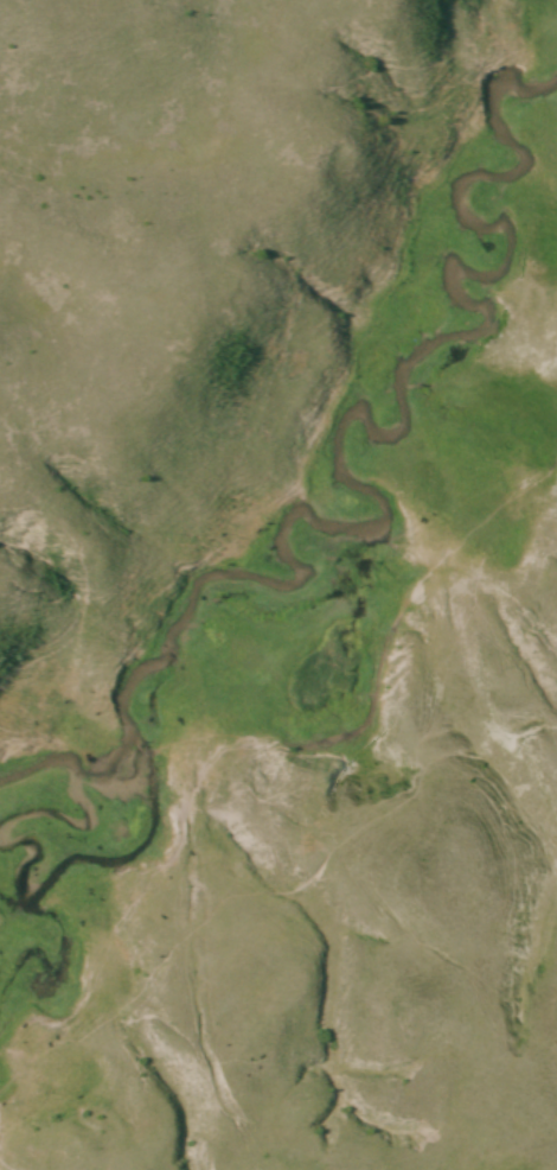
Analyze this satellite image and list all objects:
river: (286, 547)
river: (60, 997)

